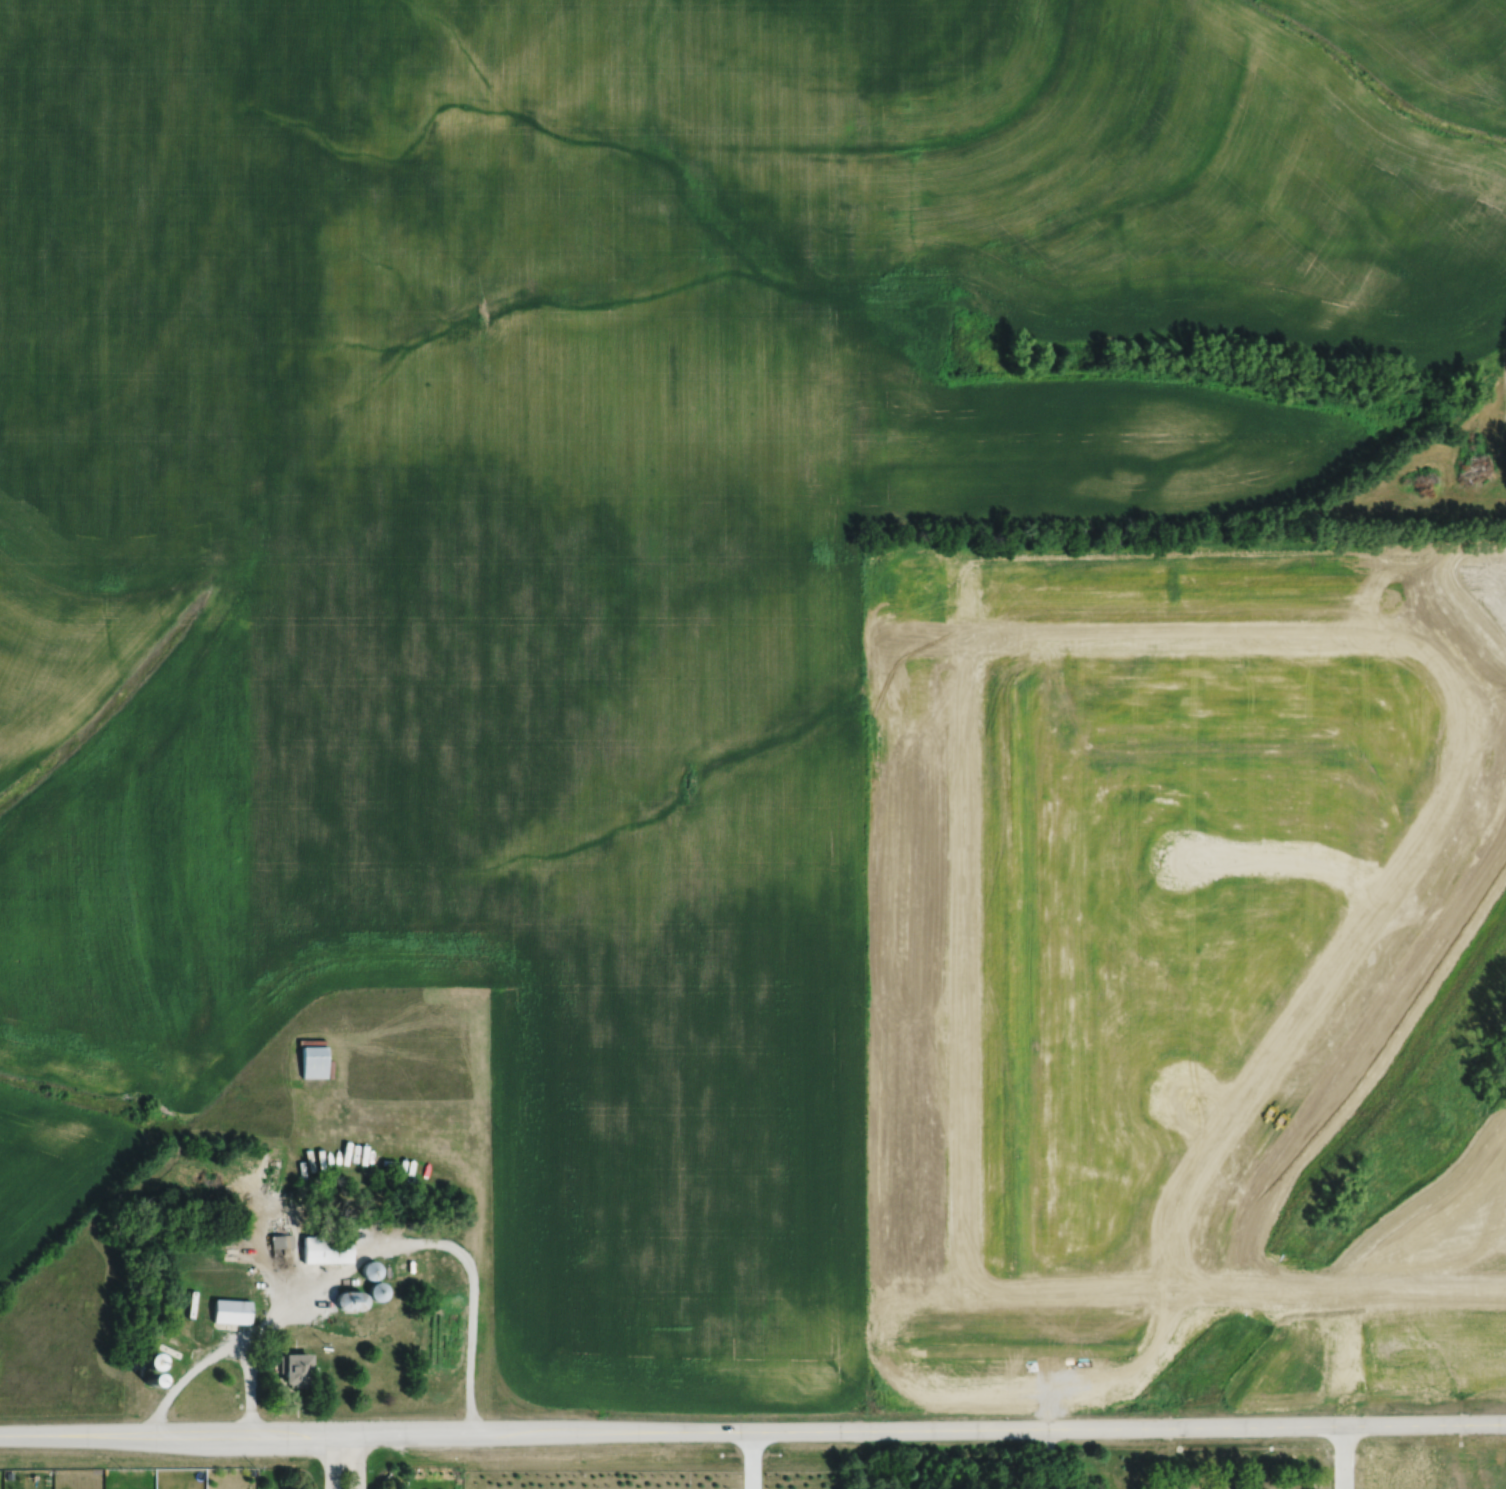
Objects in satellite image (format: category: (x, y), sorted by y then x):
road: (1160, 635)
crop: (447, 658)
road: (1286, 855)
road: (962, 926)
road: (1280, 1038)
building: (312, 1060)
road: (1201, 1107)
building: (279, 1240)
road: (387, 1243)
building: (325, 1248)
building: (370, 1268)
building: (376, 1289)
road: (1399, 1294)
road: (1279, 1295)
road: (1072, 1296)
building: (349, 1299)
building: (229, 1311)
building: (154, 1358)
building: (136, 1359)
road: (193, 1368)
building: (293, 1369)
building: (149, 1376)
road: (1344, 1391)
road: (753, 1429)
road: (1049, 1458)
road: (749, 1459)
road: (334, 1460)
road: (352, 1460)
road: (1254, 1463)
building: (252, 1470)
building: (8, 1474)

